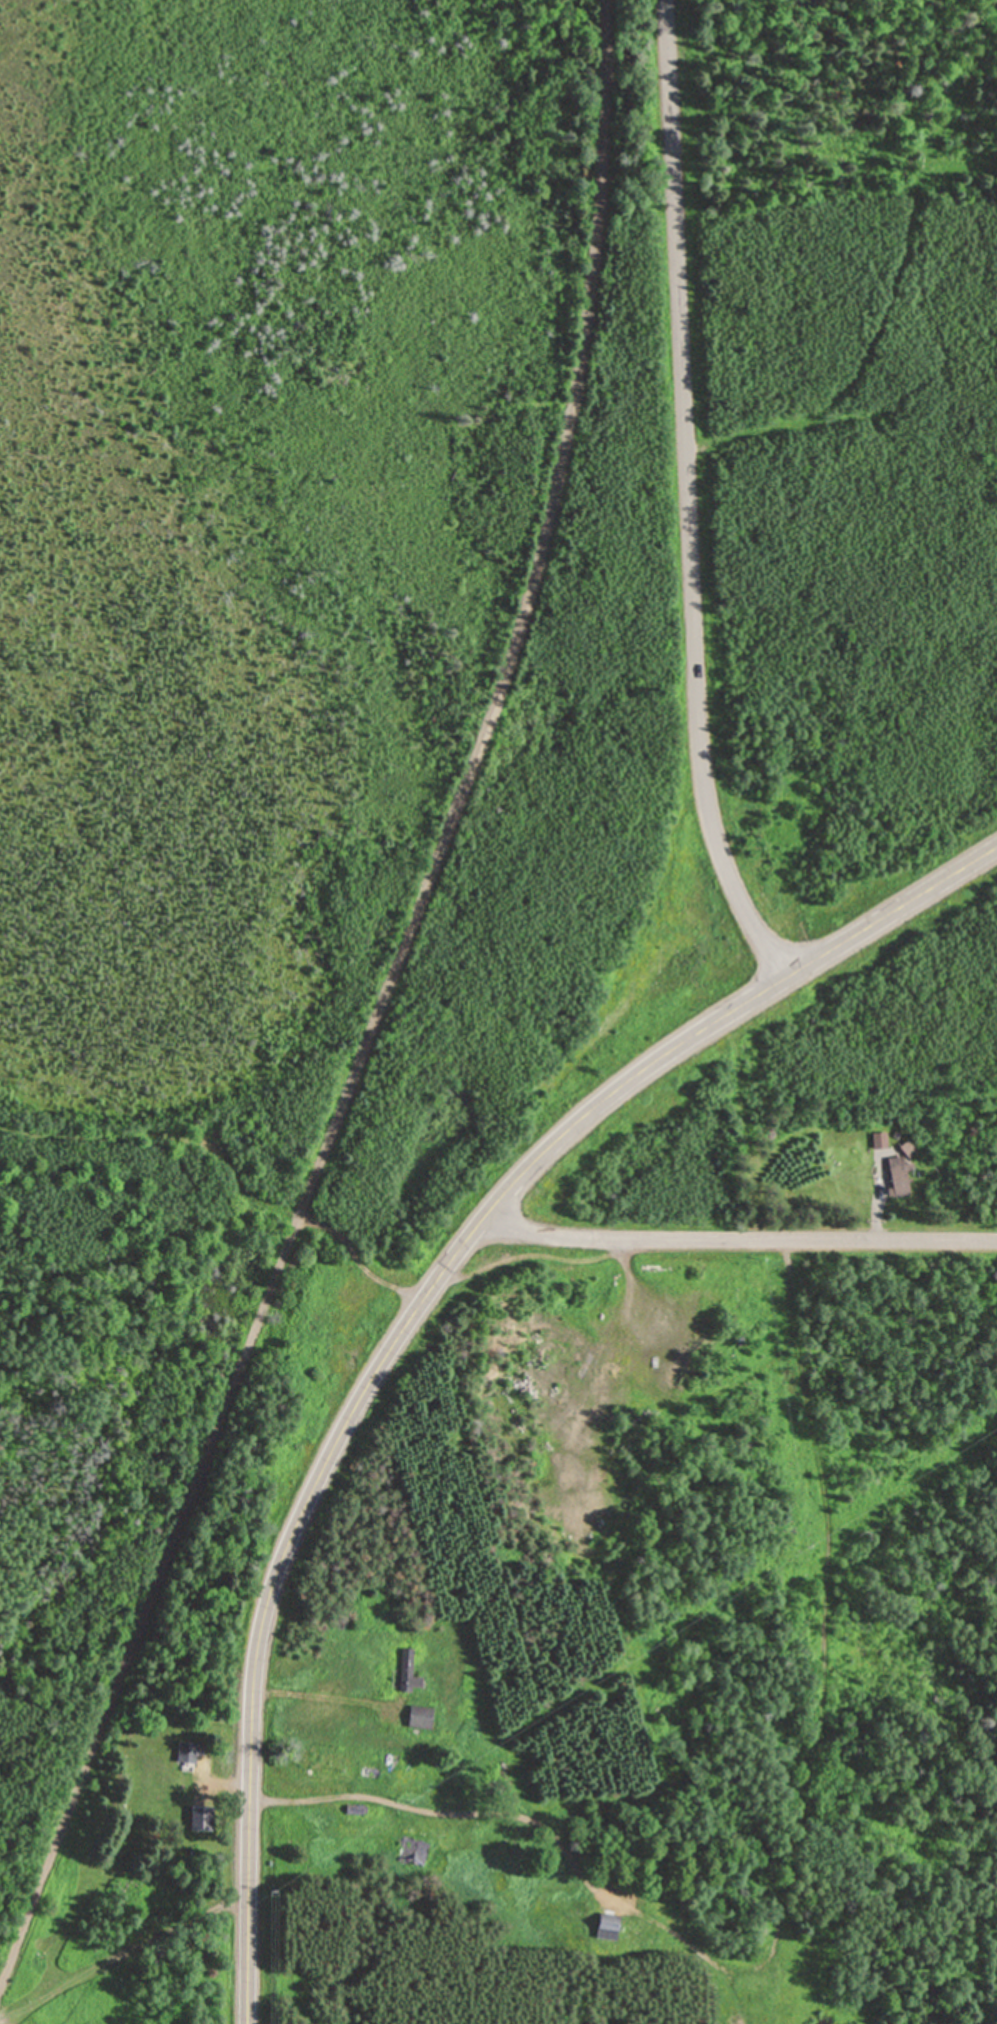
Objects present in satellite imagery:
road: (685, 496)
road: (516, 629)
road: (890, 908)
building: (878, 1137)
road: (227, 1167)
road: (737, 1236)
road: (647, 1340)
road: (346, 1414)
quarry: (602, 1416)
road: (146, 1600)
building: (407, 1670)
road: (819, 1680)
road: (311, 1695)
building: (420, 1715)
building: (186, 1750)
road: (229, 1782)
road: (453, 1811)
building: (197, 1816)
building: (409, 1851)
building: (607, 1926)
road: (121, 1956)

